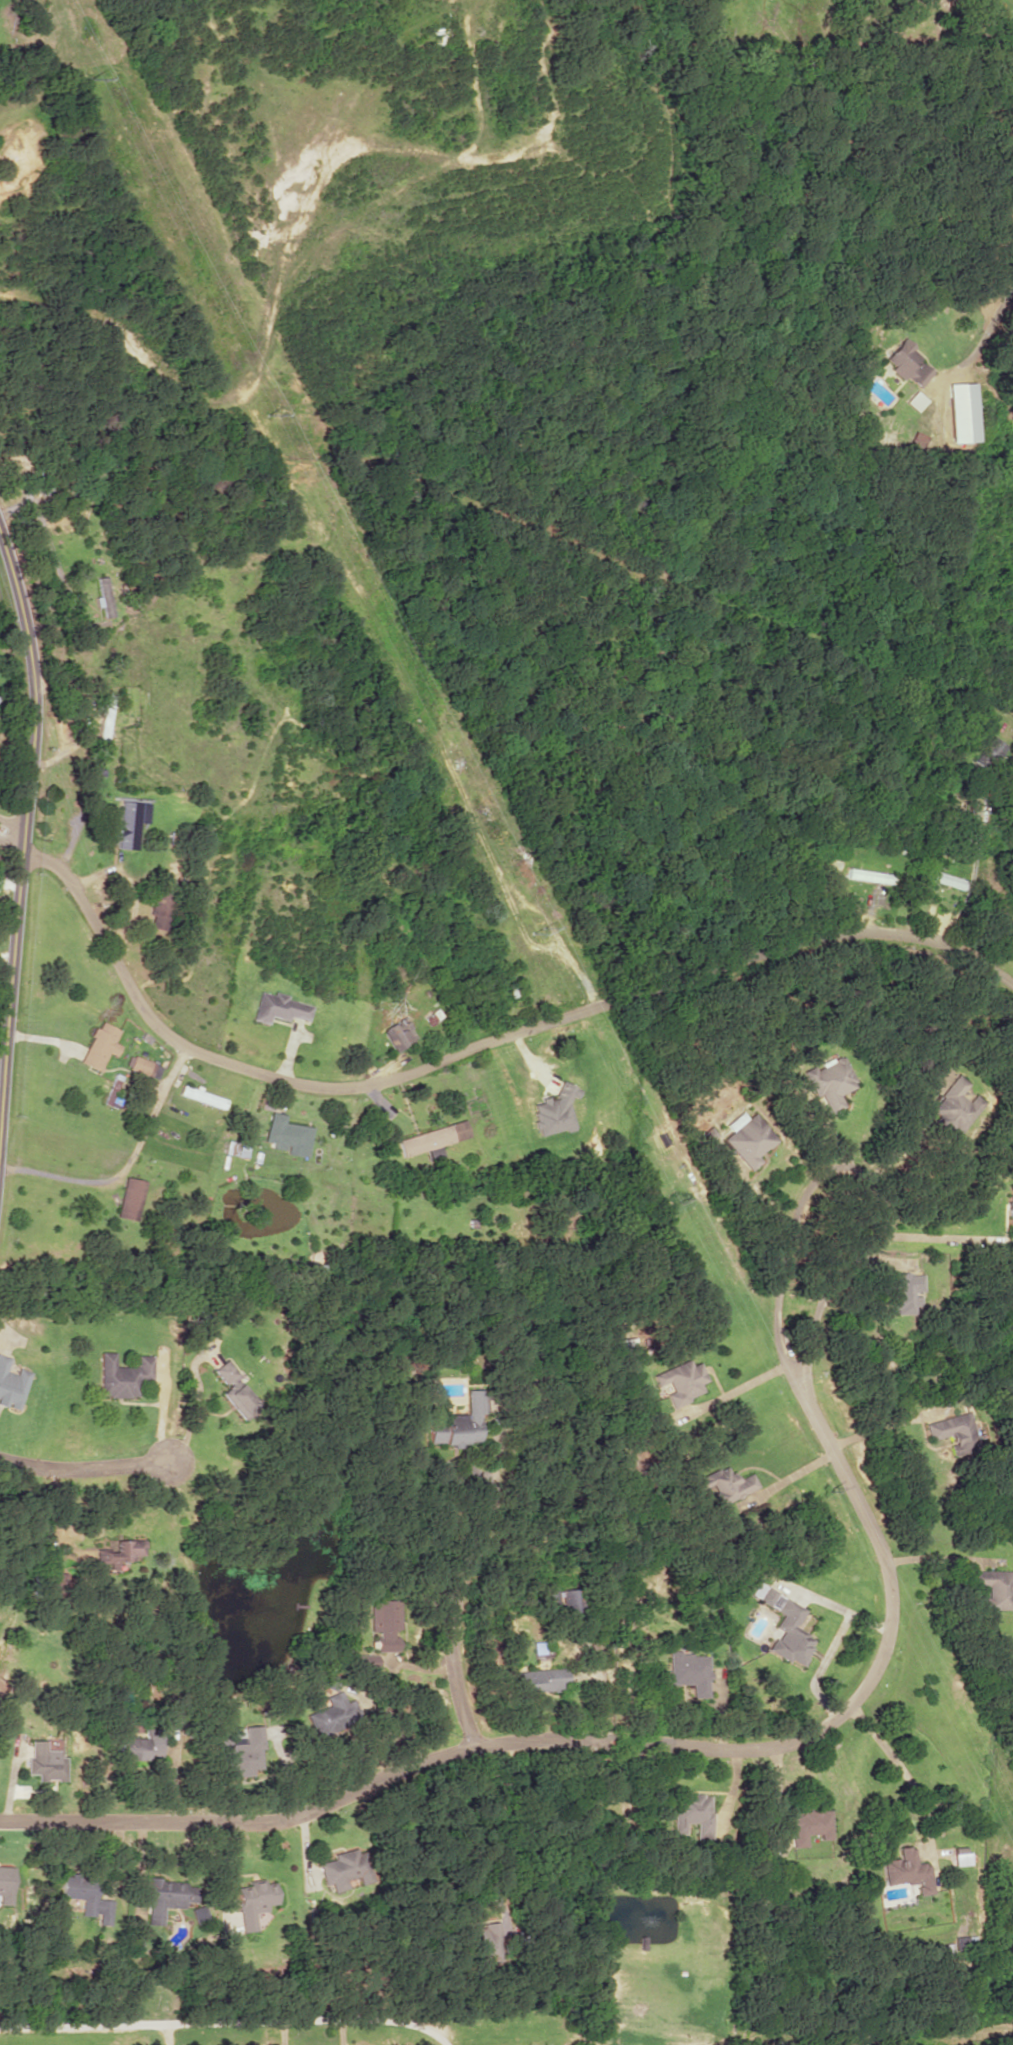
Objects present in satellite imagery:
power tower: (94, 72)
road: (987, 290)
building: (906, 362)
building: (959, 411)
power tower: (271, 419)
building: (102, 595)
building: (990, 751)
building: (129, 823)
road: (12, 836)
road: (24, 860)
building: (942, 877)
power tower: (535, 932)
building: (278, 1007)
building: (397, 1033)
building: (98, 1045)
road: (475, 1045)
building: (143, 1066)
building: (829, 1081)
building: (113, 1090)
building: (955, 1106)
building: (554, 1111)
building: (287, 1134)
building: (432, 1137)
building: (746, 1137)
building: (129, 1198)
building: (1010, 1210)
building: (903, 1290)
building: (123, 1375)
building: (680, 1381)
building: (11, 1384)
building: (236, 1390)
building: (460, 1422)
building: (952, 1429)
road: (83, 1466)
building: (726, 1483)
power tower: (827, 1491)
building: (120, 1551)
building: (48, 1581)
building: (995, 1587)
building: (384, 1626)
building: (784, 1626)
road: (452, 1662)
building: (689, 1671)
building: (541, 1679)
building: (330, 1710)
road: (606, 1740)
building: (243, 1751)
building: (45, 1761)
building: (690, 1817)
building: (808, 1825)
building: (340, 1868)
building: (908, 1870)
building: (87, 1896)
building: (163, 1897)
building: (252, 1901)
building: (487, 1939)
building: (601, 1992)

